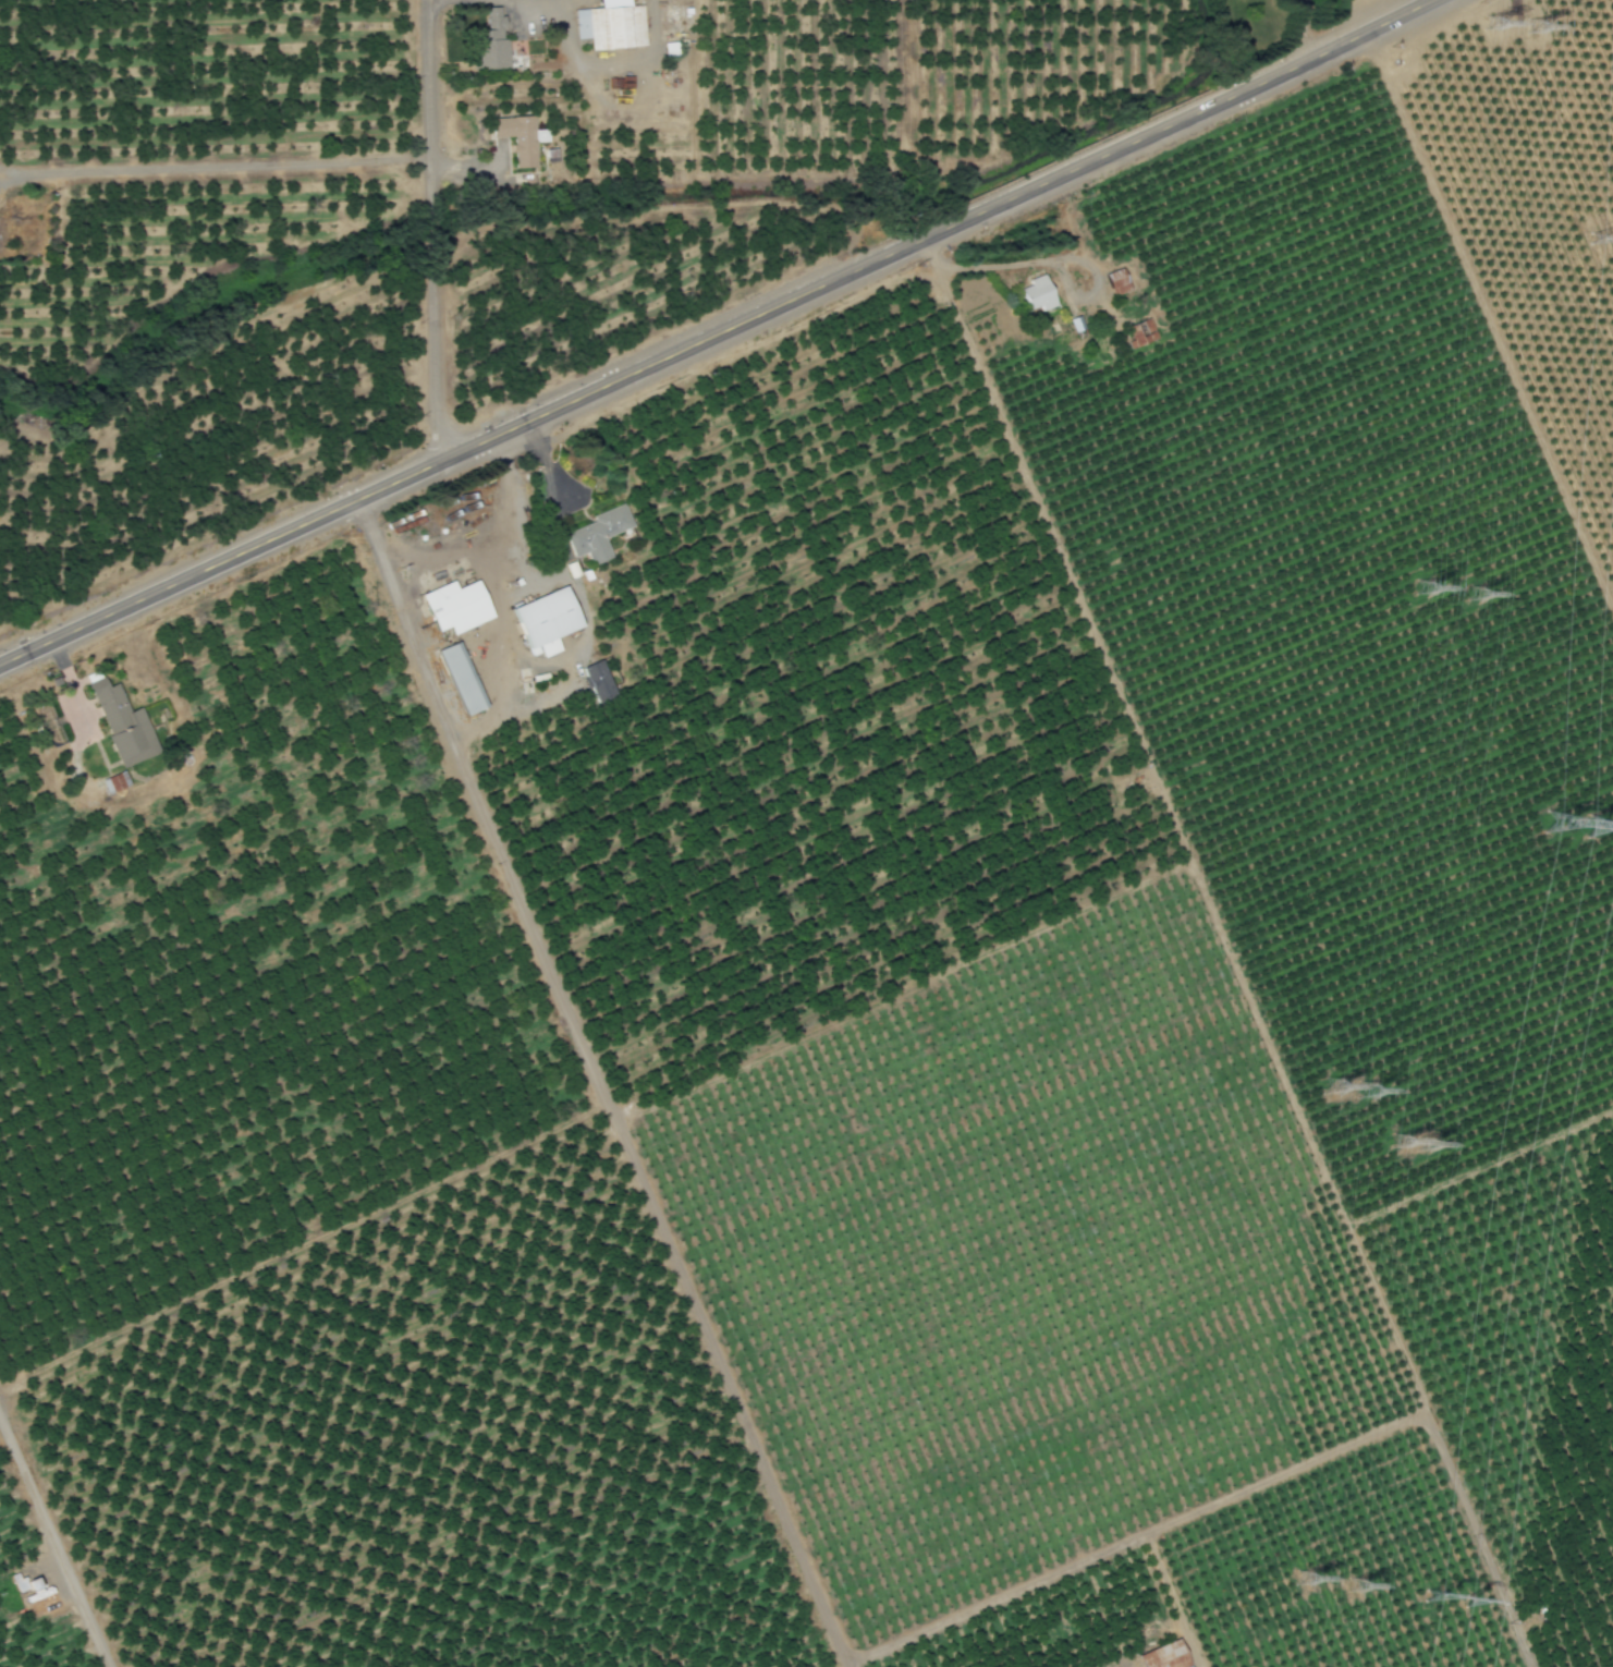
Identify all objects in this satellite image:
road: (435, 2)
road: (531, 3)
road: (561, 8)
road: (1302, 25)
building: (612, 26)
power tower: (1489, 26)
power tower: (1533, 27)
building: (487, 42)
road: (615, 64)
road: (429, 105)
building: (520, 139)
road: (219, 165)
road: (430, 236)
building: (27, 239)
power tower: (1610, 239)
building: (1, 246)
road: (1041, 261)
building: (1113, 281)
building: (1034, 294)
building: (1137, 332)
road: (712, 337)
road: (433, 360)
building: (599, 535)
road: (486, 538)
power tower: (1421, 591)
power tower: (1471, 597)
building: (457, 607)
building: (549, 621)
building: (463, 679)
building: (594, 680)
road: (80, 713)
building: (119, 723)
building: (112, 782)
power tower: (1564, 826)
road: (601, 1078)
power tower: (1334, 1088)
power tower: (1368, 1092)
power tower: (1414, 1144)
road: (1259, 1481)
road: (53, 1544)
power tower: (1302, 1579)
power tower: (1352, 1586)
road: (1170, 1599)
power tower: (1441, 1601)
building: (1162, 1656)
road: (853, 1659)
building: (1185, 1666)

